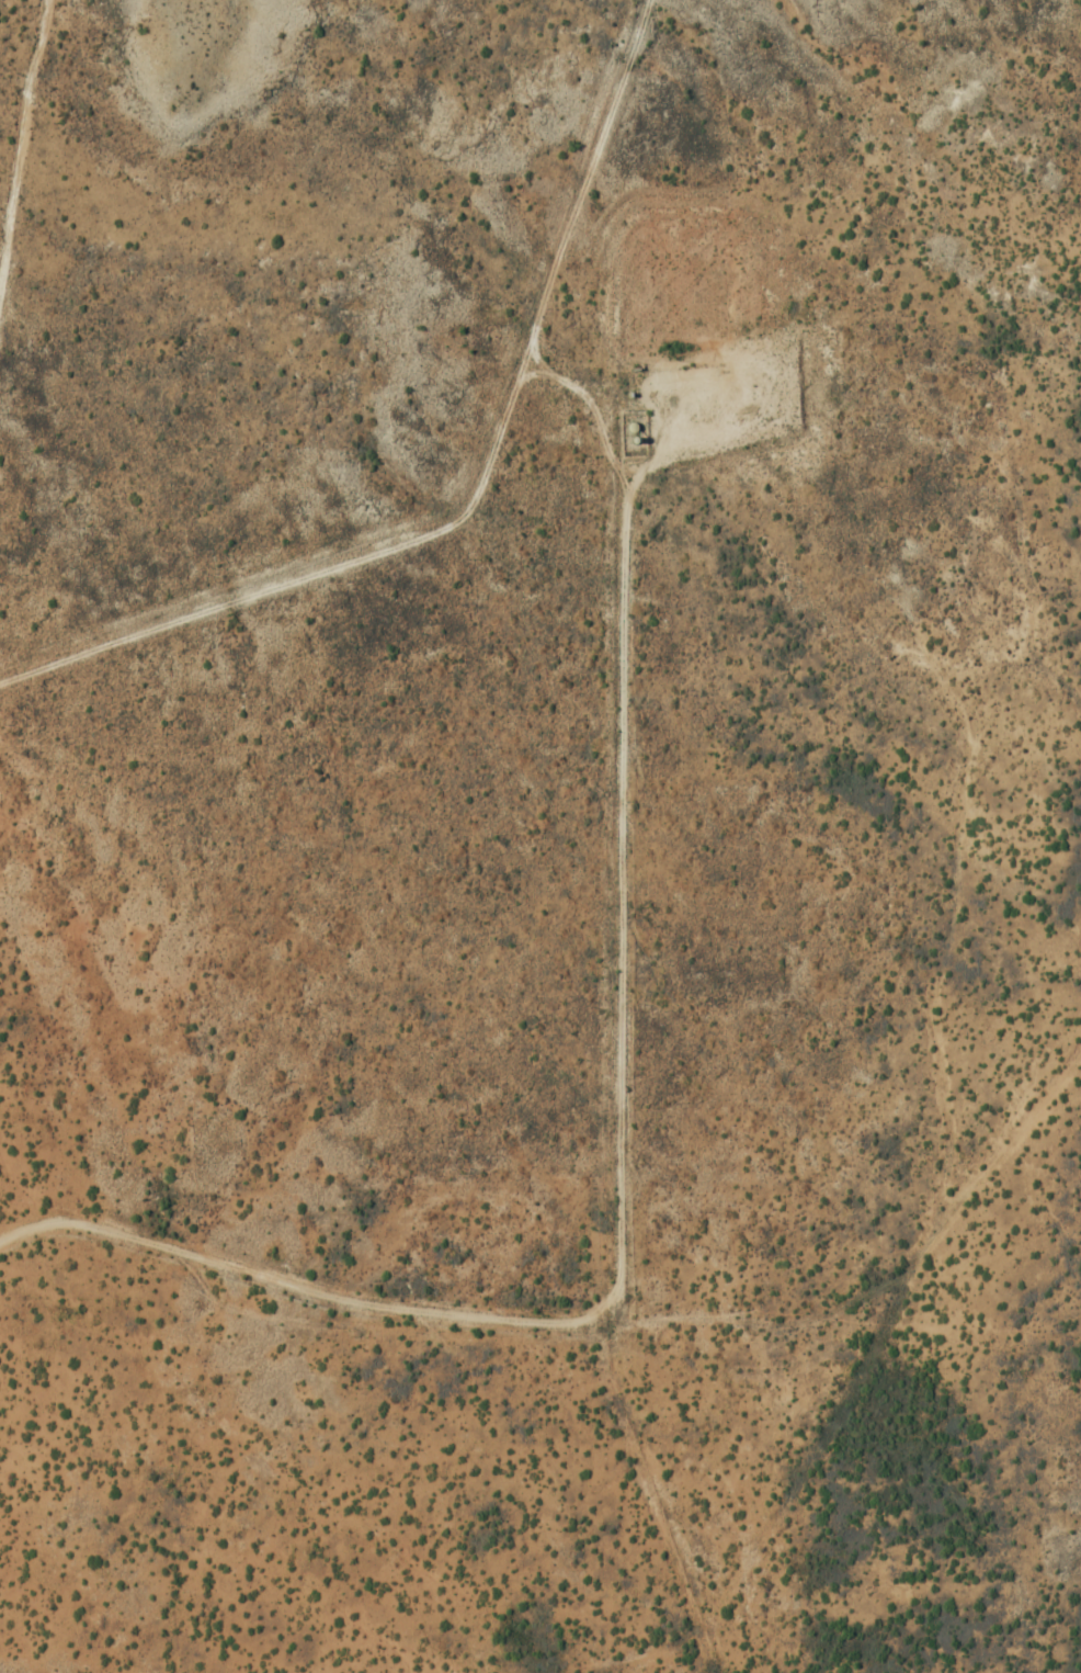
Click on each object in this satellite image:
road: (23, 144)
road: (618, 1115)

